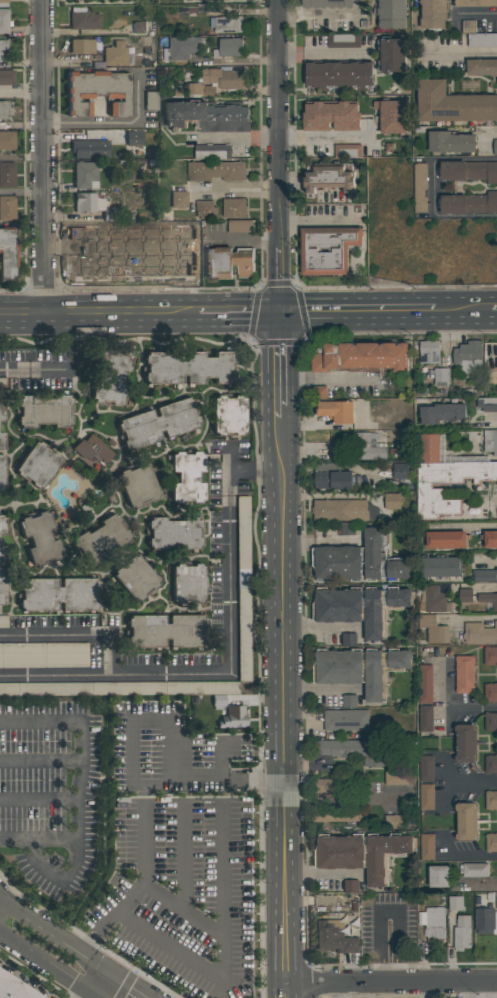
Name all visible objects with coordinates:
building: (3, 3)
building: (329, 3)
building: (476, 3)
road: (475, 12)
road: (244, 13)
building: (391, 13)
building: (433, 13)
road: (316, 15)
building: (4, 20)
building: (83, 21)
building: (228, 23)
building: (138, 28)
building: (478, 36)
building: (343, 41)
building: (2, 46)
building: (81, 47)
building: (181, 48)
building: (228, 48)
road: (323, 52)
road: (460, 54)
building: (114, 55)
building: (391, 55)
building: (481, 67)
building: (338, 75)
building: (6, 76)
building: (217, 82)
building: (98, 96)
building: (150, 100)
building: (453, 103)
building: (4, 109)
building: (207, 115)
building: (331, 115)
building: (391, 115)
road: (110, 122)
road: (278, 124)
building: (133, 137)
road: (325, 137)
road: (488, 137)
building: (7, 139)
road: (232, 139)
building: (451, 142)
building: (495, 147)
building: (89, 148)
building: (347, 150)
building: (212, 151)
road: (41, 157)
road: (20, 158)
building: (469, 170)
building: (216, 171)
building: (7, 174)
building: (85, 174)
building: (329, 177)
road: (432, 187)
building: (419, 188)
road: (236, 189)
road: (20, 191)
building: (178, 199)
building: (87, 202)
building: (469, 203)
building: (7, 207)
building: (233, 207)
building: (205, 209)
building: (240, 226)
building: (327, 249)
building: (7, 252)
building: (228, 262)
road: (280, 280)
road: (462, 311)
road: (494, 311)
road: (357, 312)
road: (99, 313)
road: (239, 313)
building: (429, 351)
building: (467, 356)
building: (361, 358)
building: (187, 366)
road: (280, 366)
road: (63, 369)
building: (111, 376)
building: (441, 377)
building: (319, 392)
building: (487, 404)
building: (43, 410)
building: (335, 410)
building: (1, 412)
building: (442, 412)
building: (227, 414)
road: (491, 421)
building: (157, 423)
building: (1, 440)
building: (490, 441)
building: (367, 447)
building: (92, 451)
building: (37, 464)
building: (1, 471)
building: (400, 471)
building: (186, 476)
building: (333, 479)
building: (444, 479)
building: (137, 484)
building: (390, 501)
building: (339, 510)
building: (2, 524)
building: (347, 529)
building: (174, 532)
building: (39, 537)
building: (100, 539)
building: (446, 539)
building: (489, 539)
road: (319, 542)
building: (2, 553)
building: (359, 560)
building: (442, 566)
building: (485, 576)
building: (135, 578)
building: (187, 582)
building: (2, 585)
building: (243, 586)
building: (58, 593)
building: (465, 595)
building: (433, 599)
building: (488, 599)
building: (359, 607)
road: (469, 618)
building: (3, 620)
road: (321, 629)
building: (433, 629)
building: (166, 630)
building: (479, 633)
road: (72, 637)
building: (348, 640)
building: (44, 654)
building: (490, 655)
road: (230, 663)
building: (360, 668)
building: (464, 674)
building: (425, 683)
building: (119, 688)
road: (321, 689)
building: (490, 692)
building: (349, 701)
road: (455, 707)
road: (285, 708)
building: (233, 716)
road: (153, 717)
building: (425, 718)
building: (346, 720)
building: (491, 721)
building: (465, 742)
building: (355, 750)
road: (219, 757)
road: (40, 761)
building: (491, 764)
building: (426, 768)
road: (207, 778)
building: (392, 778)
road: (471, 783)
road: (146, 785)
building: (337, 785)
road: (79, 792)
parking lot: (52, 796)
building: (426, 797)
road: (39, 799)
building: (491, 800)
building: (337, 814)
building: (395, 820)
building: (466, 821)
road: (38, 840)
building: (491, 842)
building: (426, 847)
building: (362, 853)
road: (185, 857)
road: (469, 857)
building: (475, 870)
road: (223, 873)
road: (324, 874)
building: (439, 876)
road: (141, 881)
building: (350, 886)
building: (455, 903)
road: (387, 914)
building: (486, 920)
building: (432, 924)
building: (462, 932)
building: (334, 936)
road: (75, 946)
road: (221, 962)
road: (47, 967)
road: (390, 982)
building: (15, 987)
road: (431, 990)
road: (334, 991)

